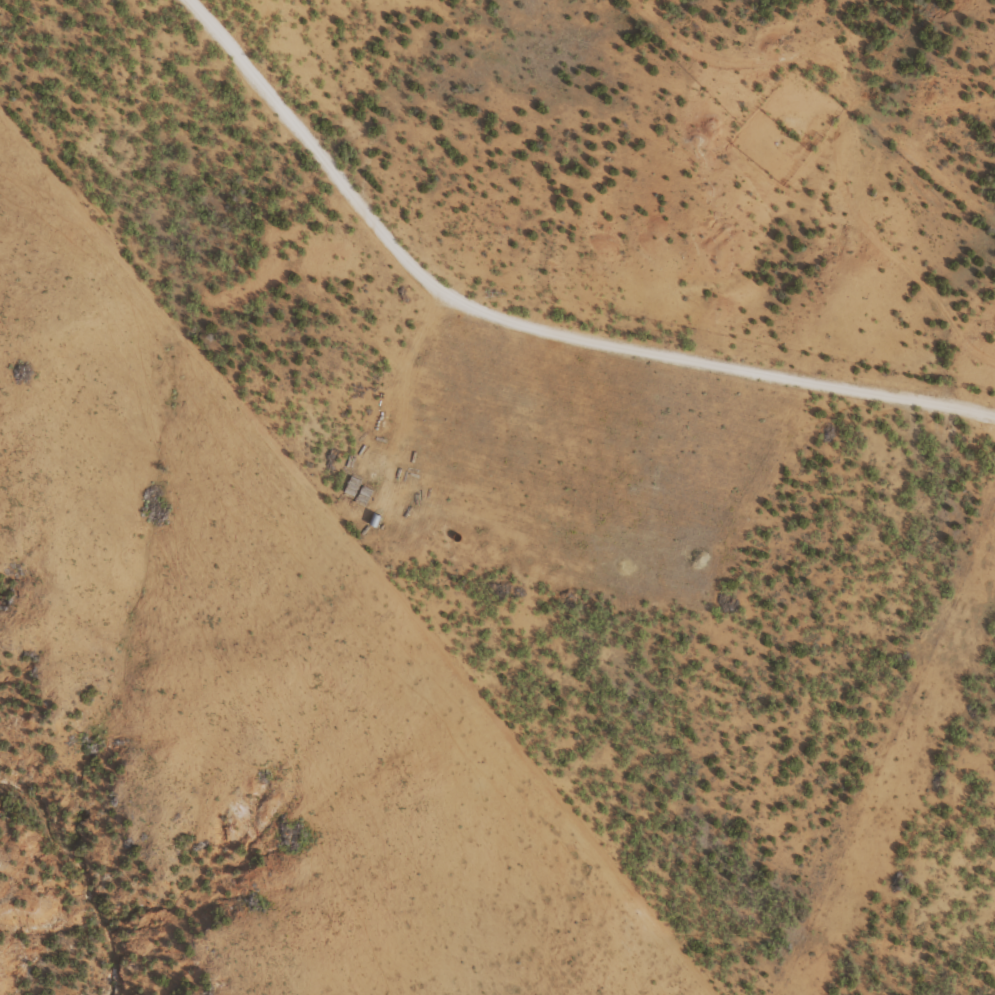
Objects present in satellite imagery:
road: (531, 322)

